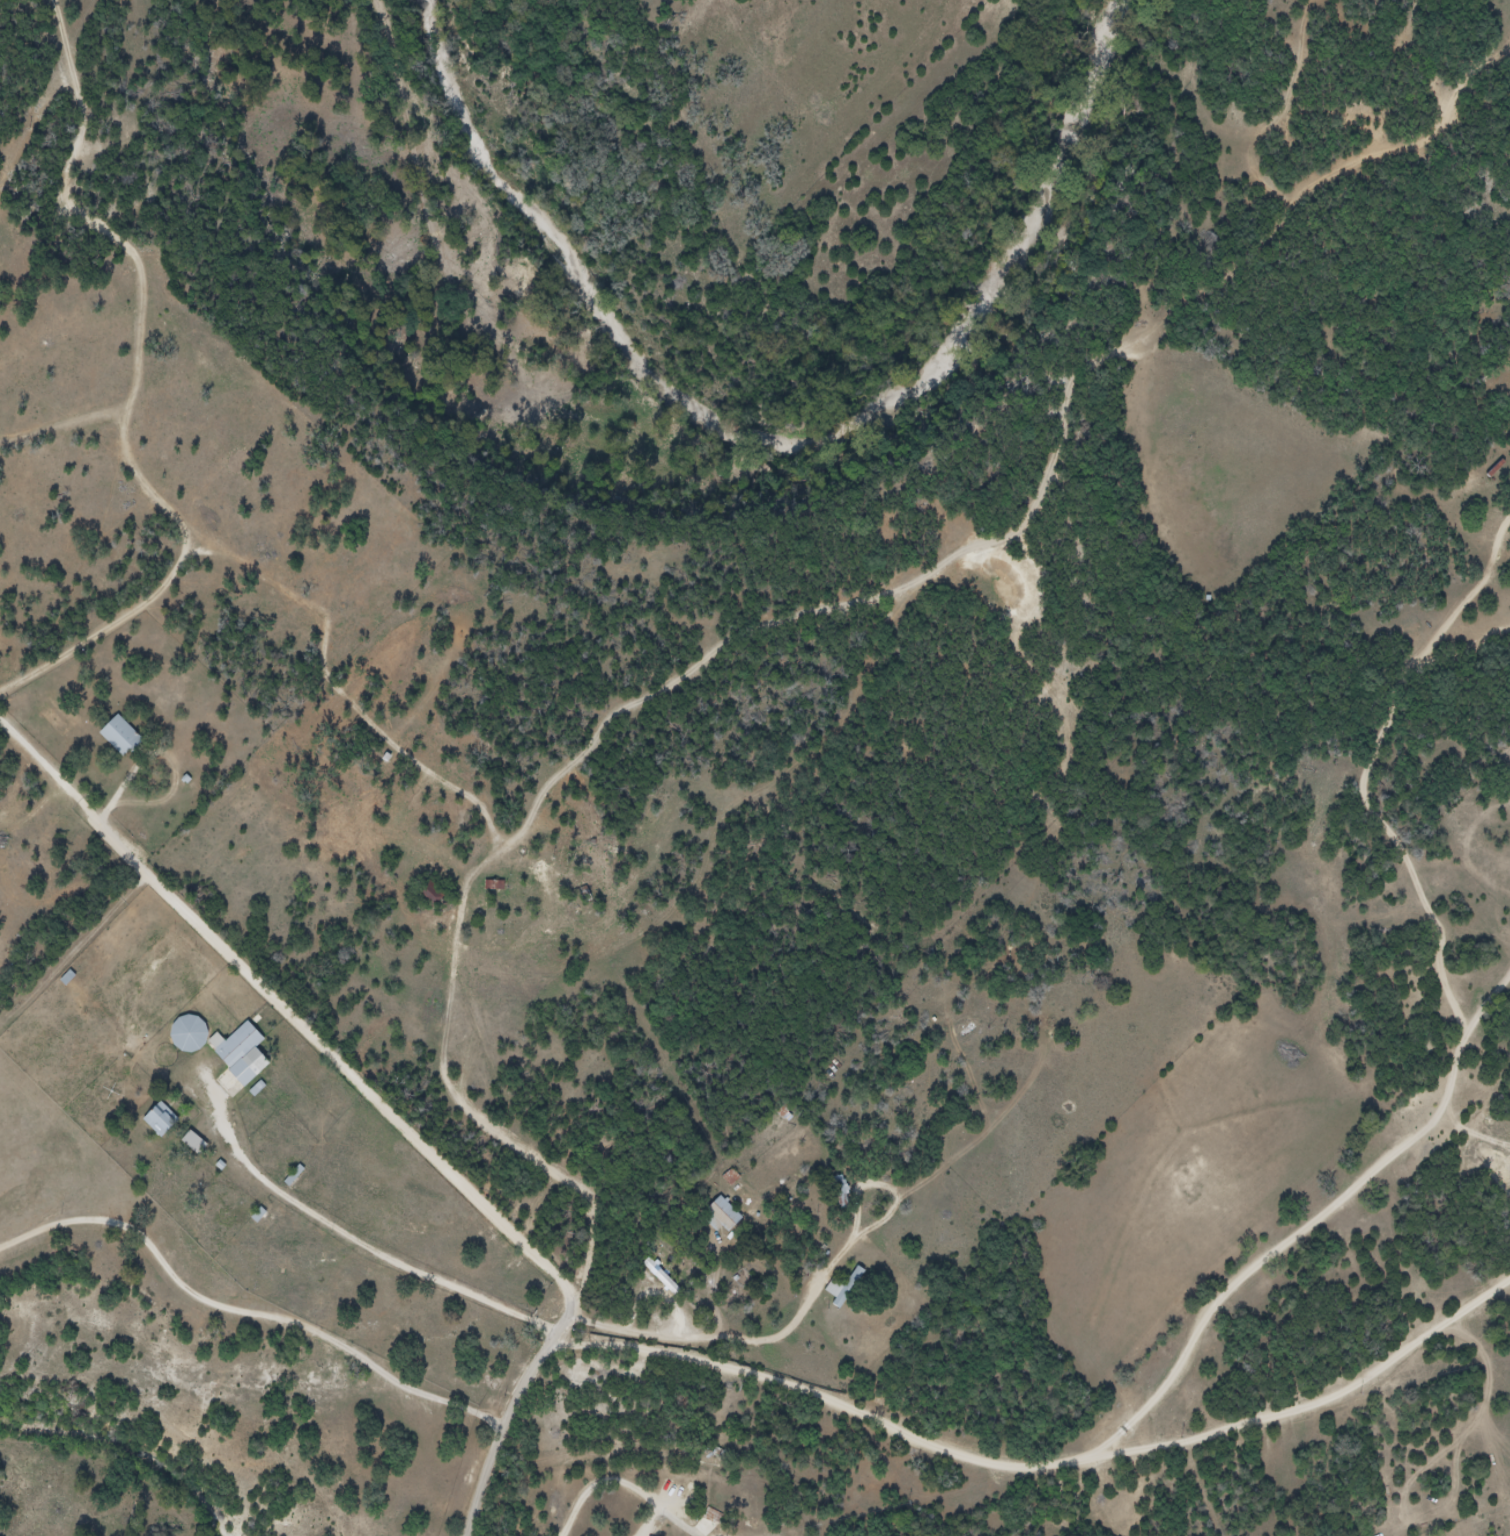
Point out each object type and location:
building: (127, 741)
building: (196, 1040)
building: (248, 1060)
road: (339, 1060)
building: (162, 1121)
building: (196, 1144)
building: (843, 1187)
building: (722, 1216)
road: (358, 1241)
building: (850, 1289)
road: (248, 1313)
road: (507, 1435)
road: (1044, 1463)
road: (622, 1484)
building: (721, 1521)

